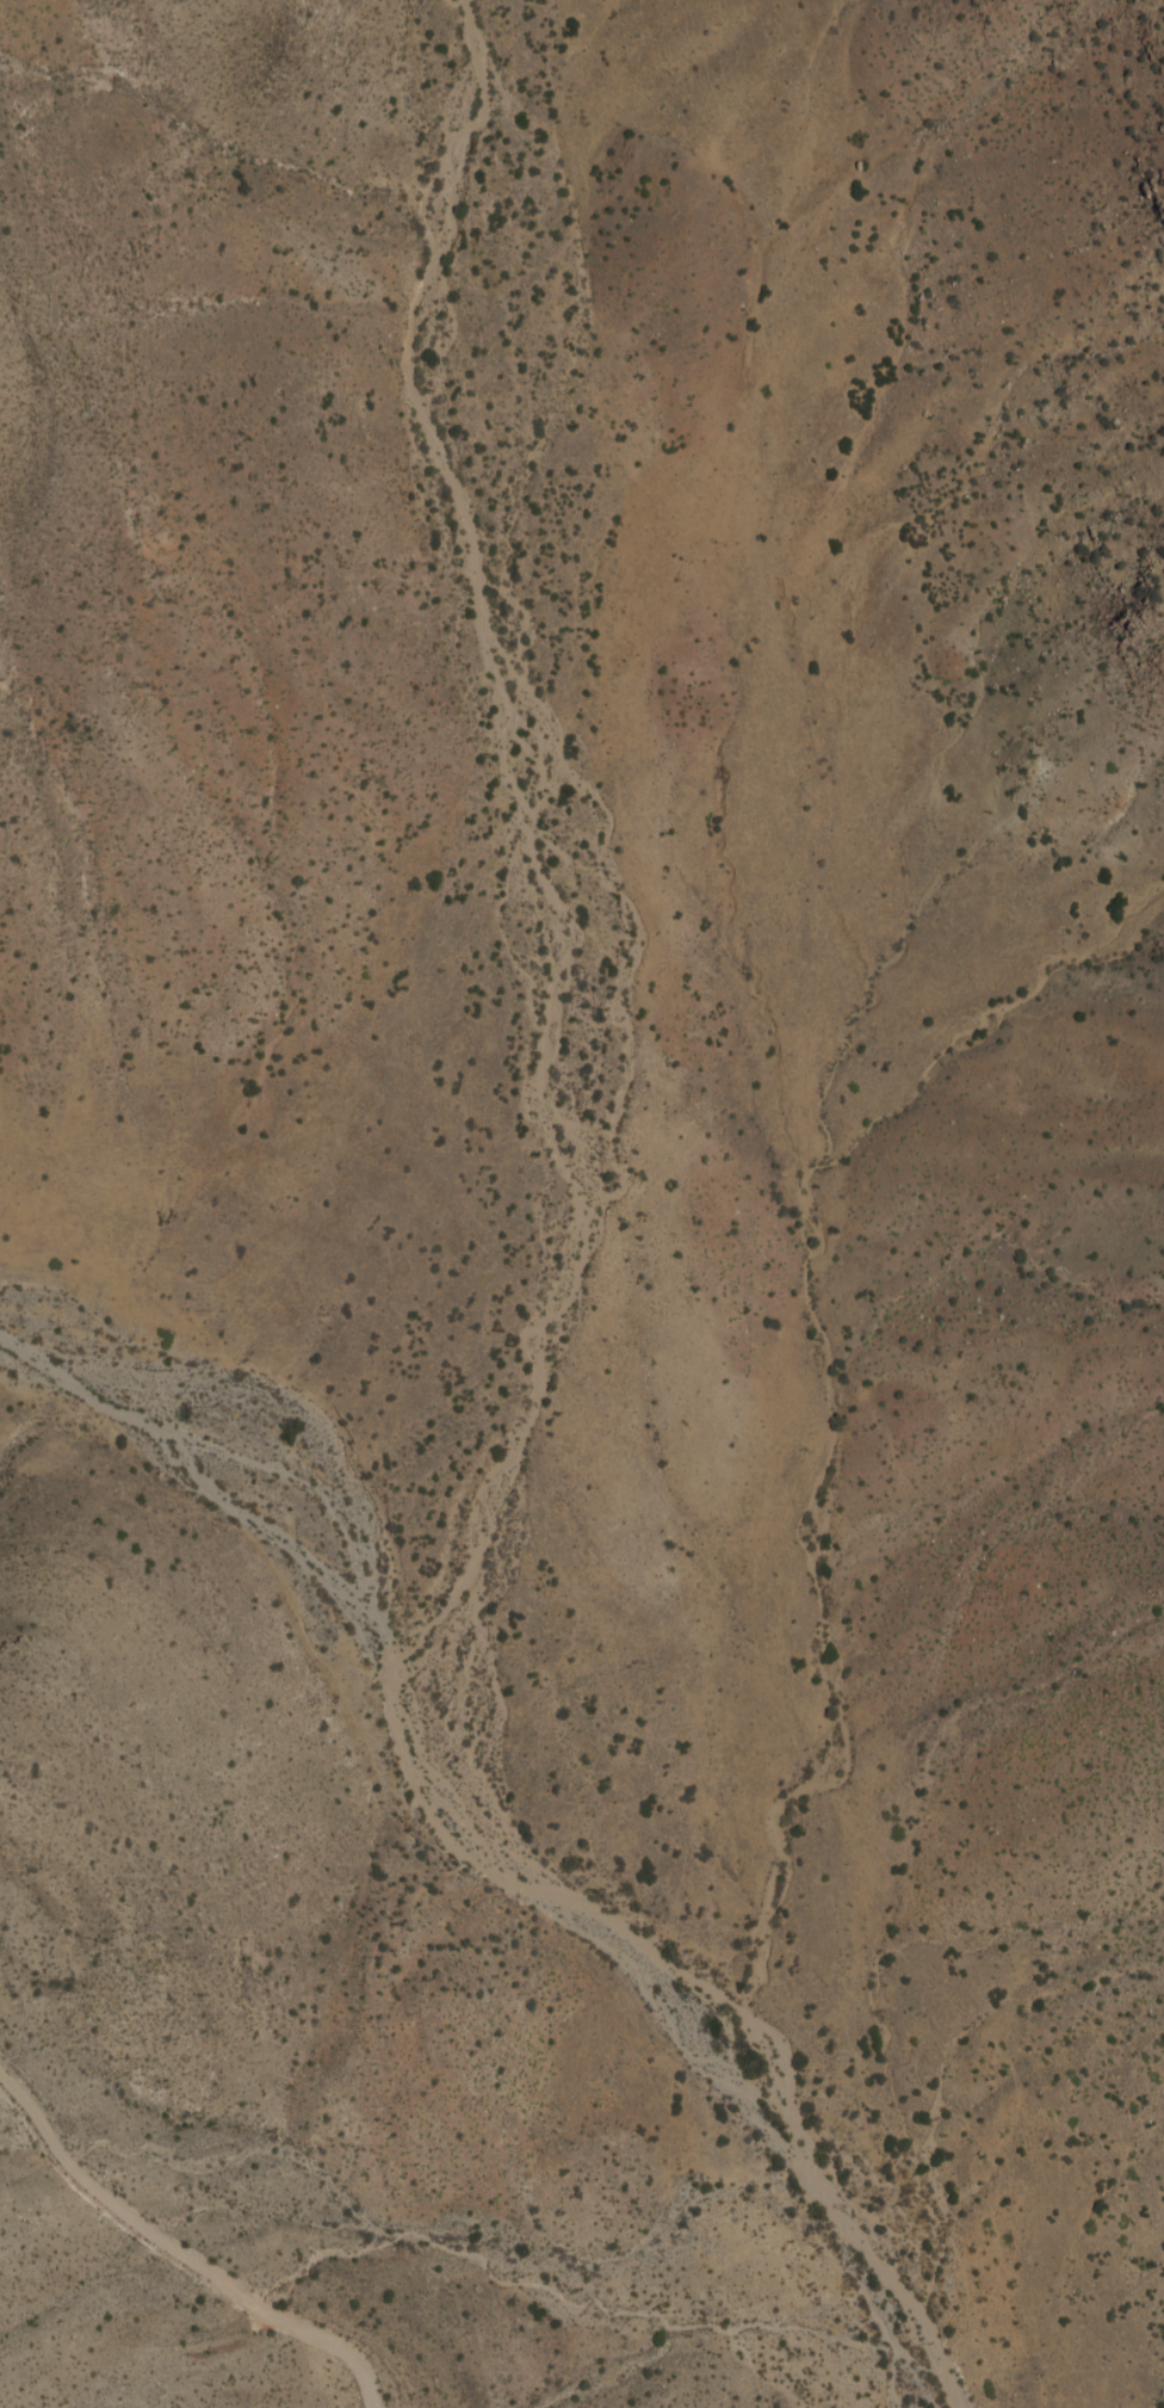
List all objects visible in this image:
river: (16, 2142)
river: (47, 2145)
river: (436, 2248)
road: (177, 2255)
river: (725, 2334)

